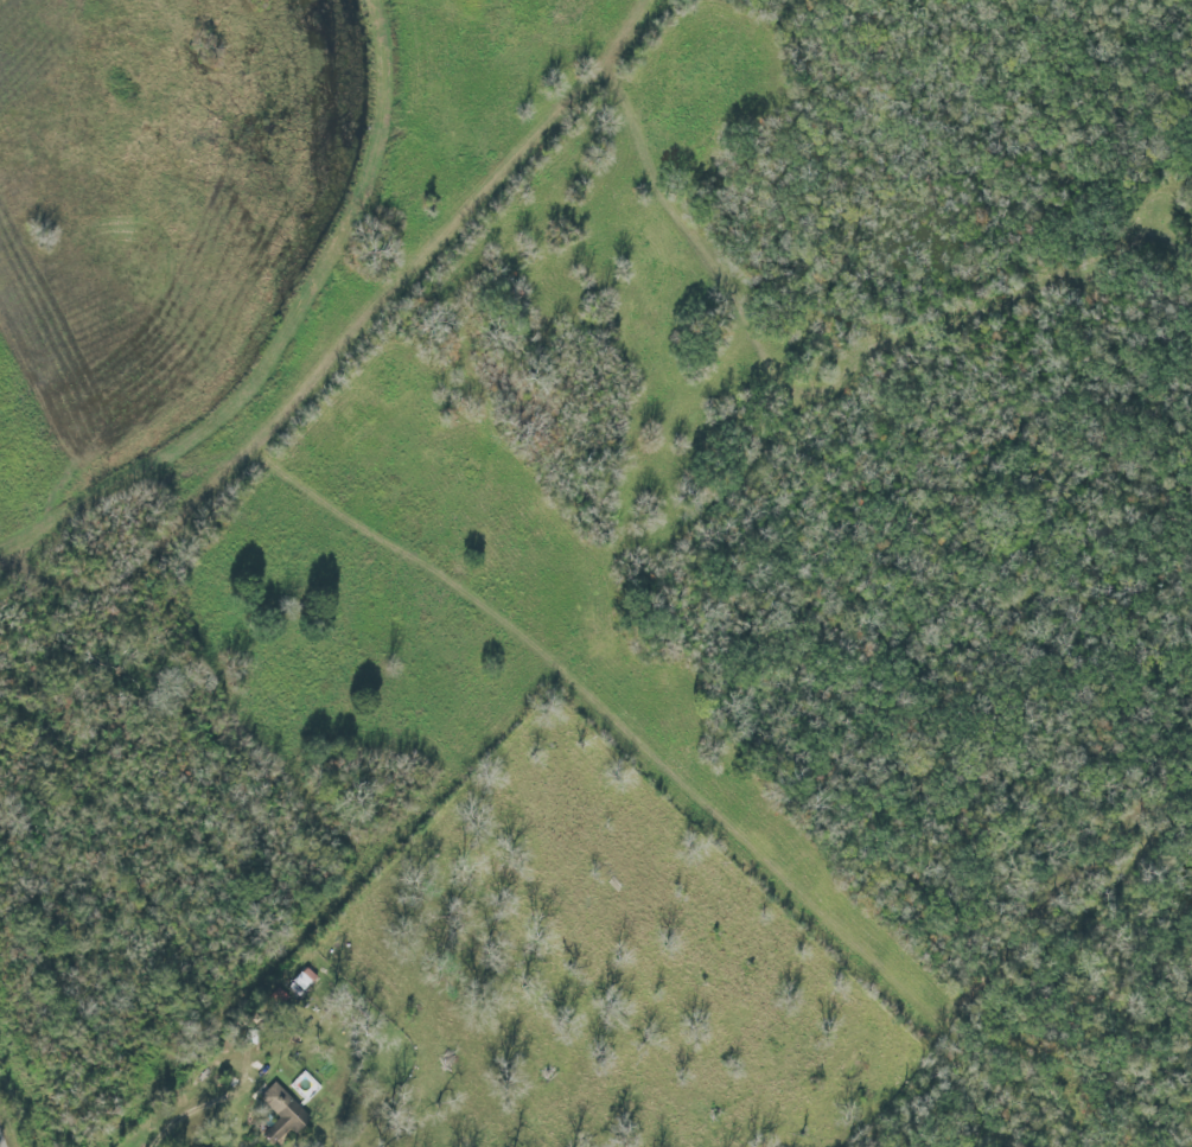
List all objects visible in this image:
building: (299, 981)
building: (276, 1116)
road: (2, 1139)

